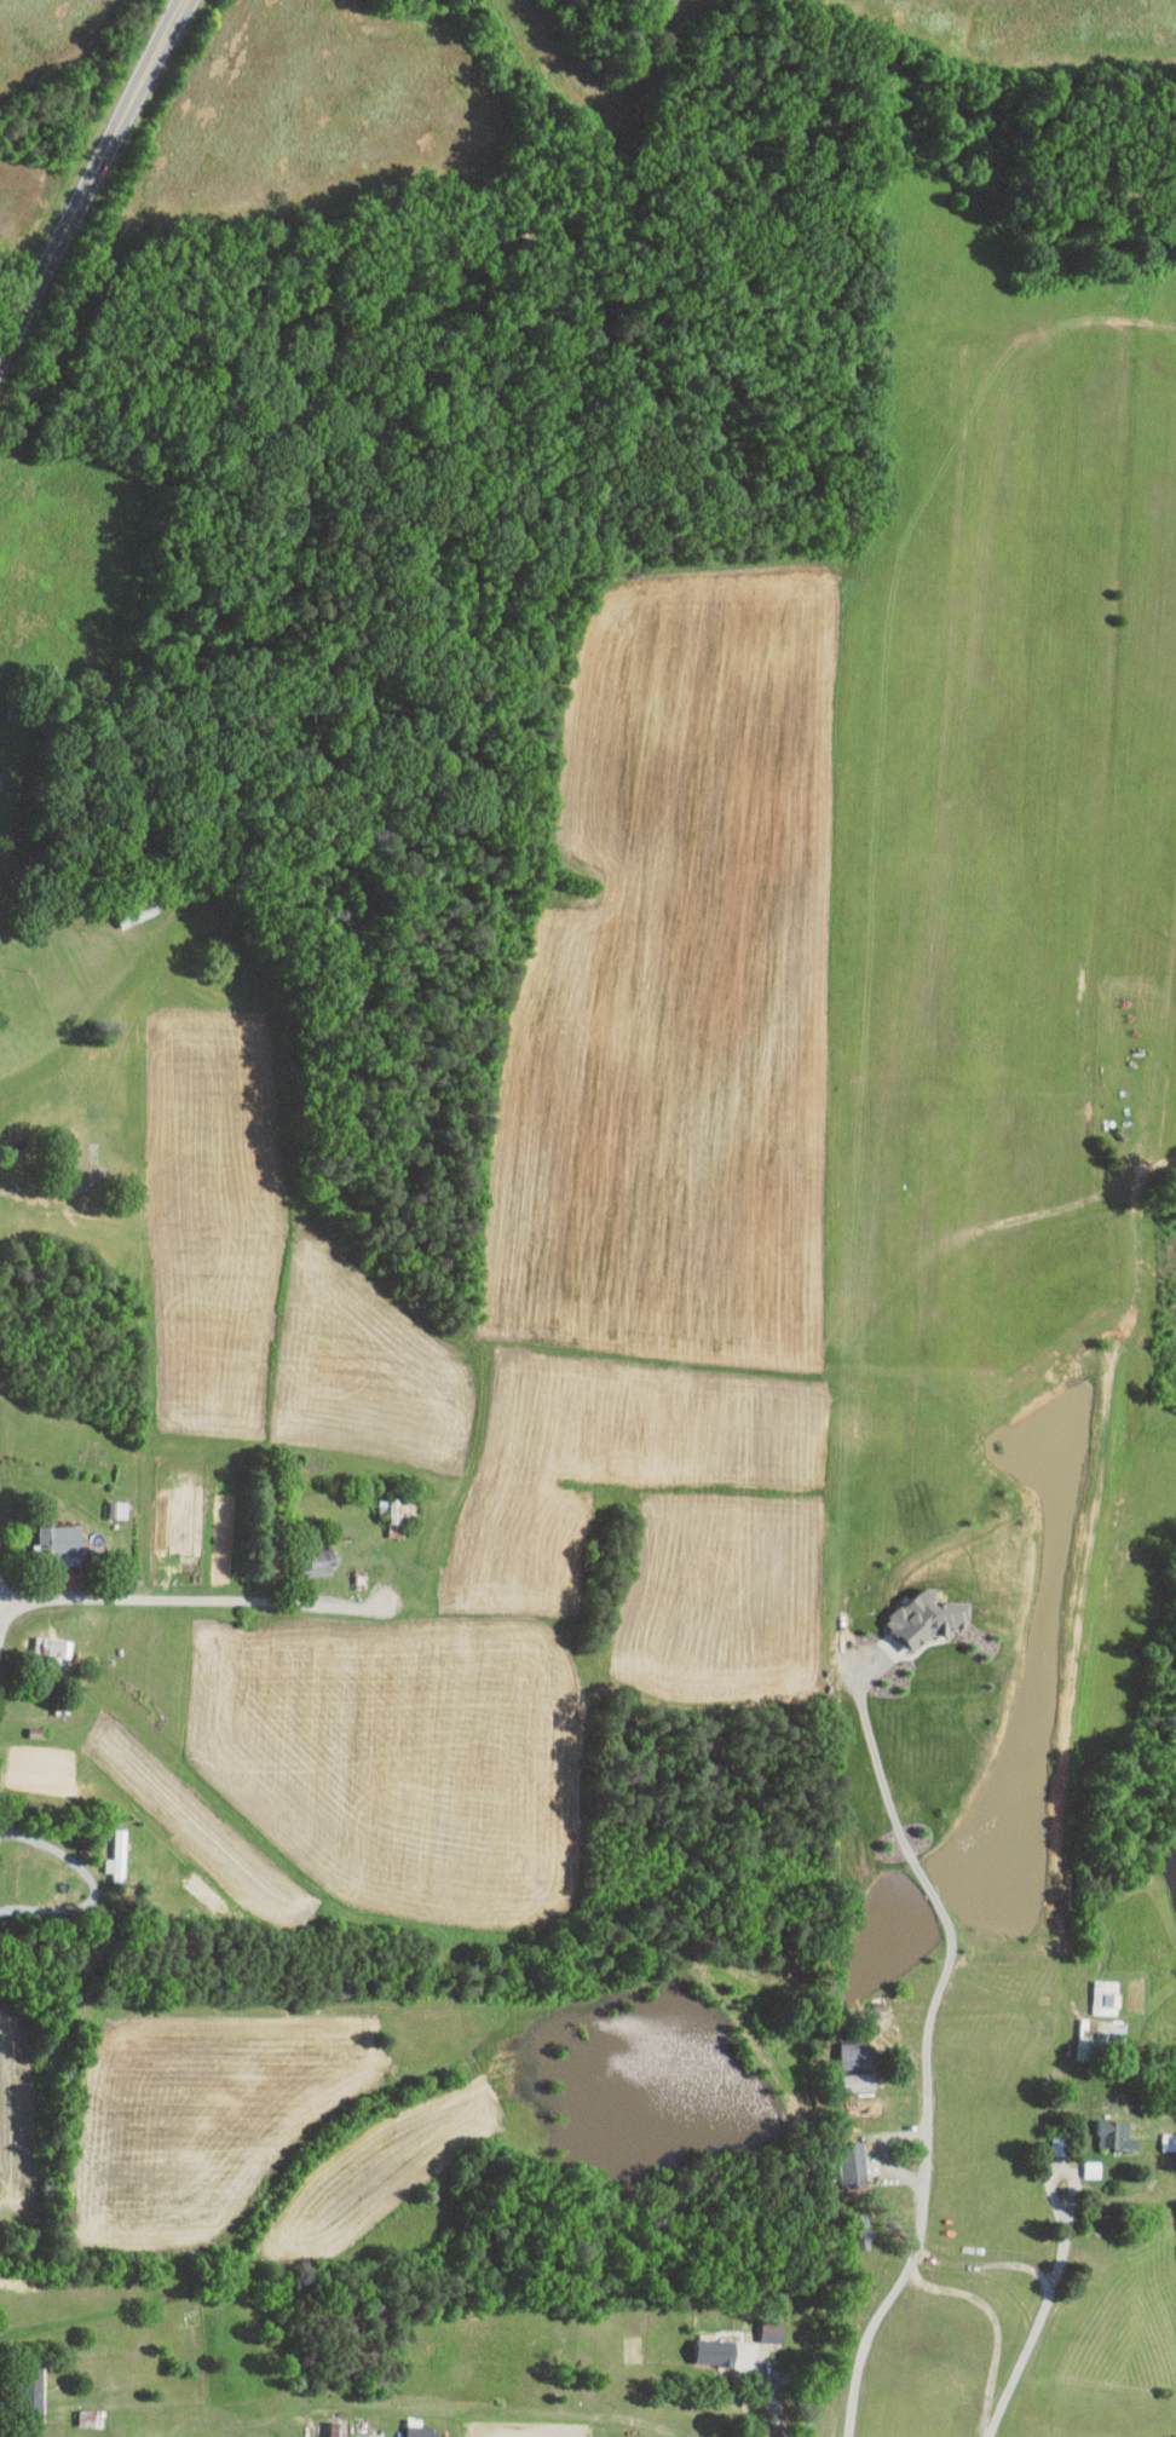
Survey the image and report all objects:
road: (93, 179)
building: (51, 1532)
building: (316, 1566)
road: (192, 1600)
building: (927, 1618)
road: (96, 1884)
building: (1106, 1997)
building: (1102, 2038)
road: (929, 2044)
building: (855, 2055)
building: (859, 2081)
building: (1116, 2136)
building: (1169, 2141)
road: (882, 2154)
building: (853, 2165)
building: (1093, 2170)
building: (861, 2228)
road: (1038, 2326)
building: (715, 2350)
road: (796, 2425)
building: (336, 2427)
building: (420, 2429)
building: (381, 2436)

